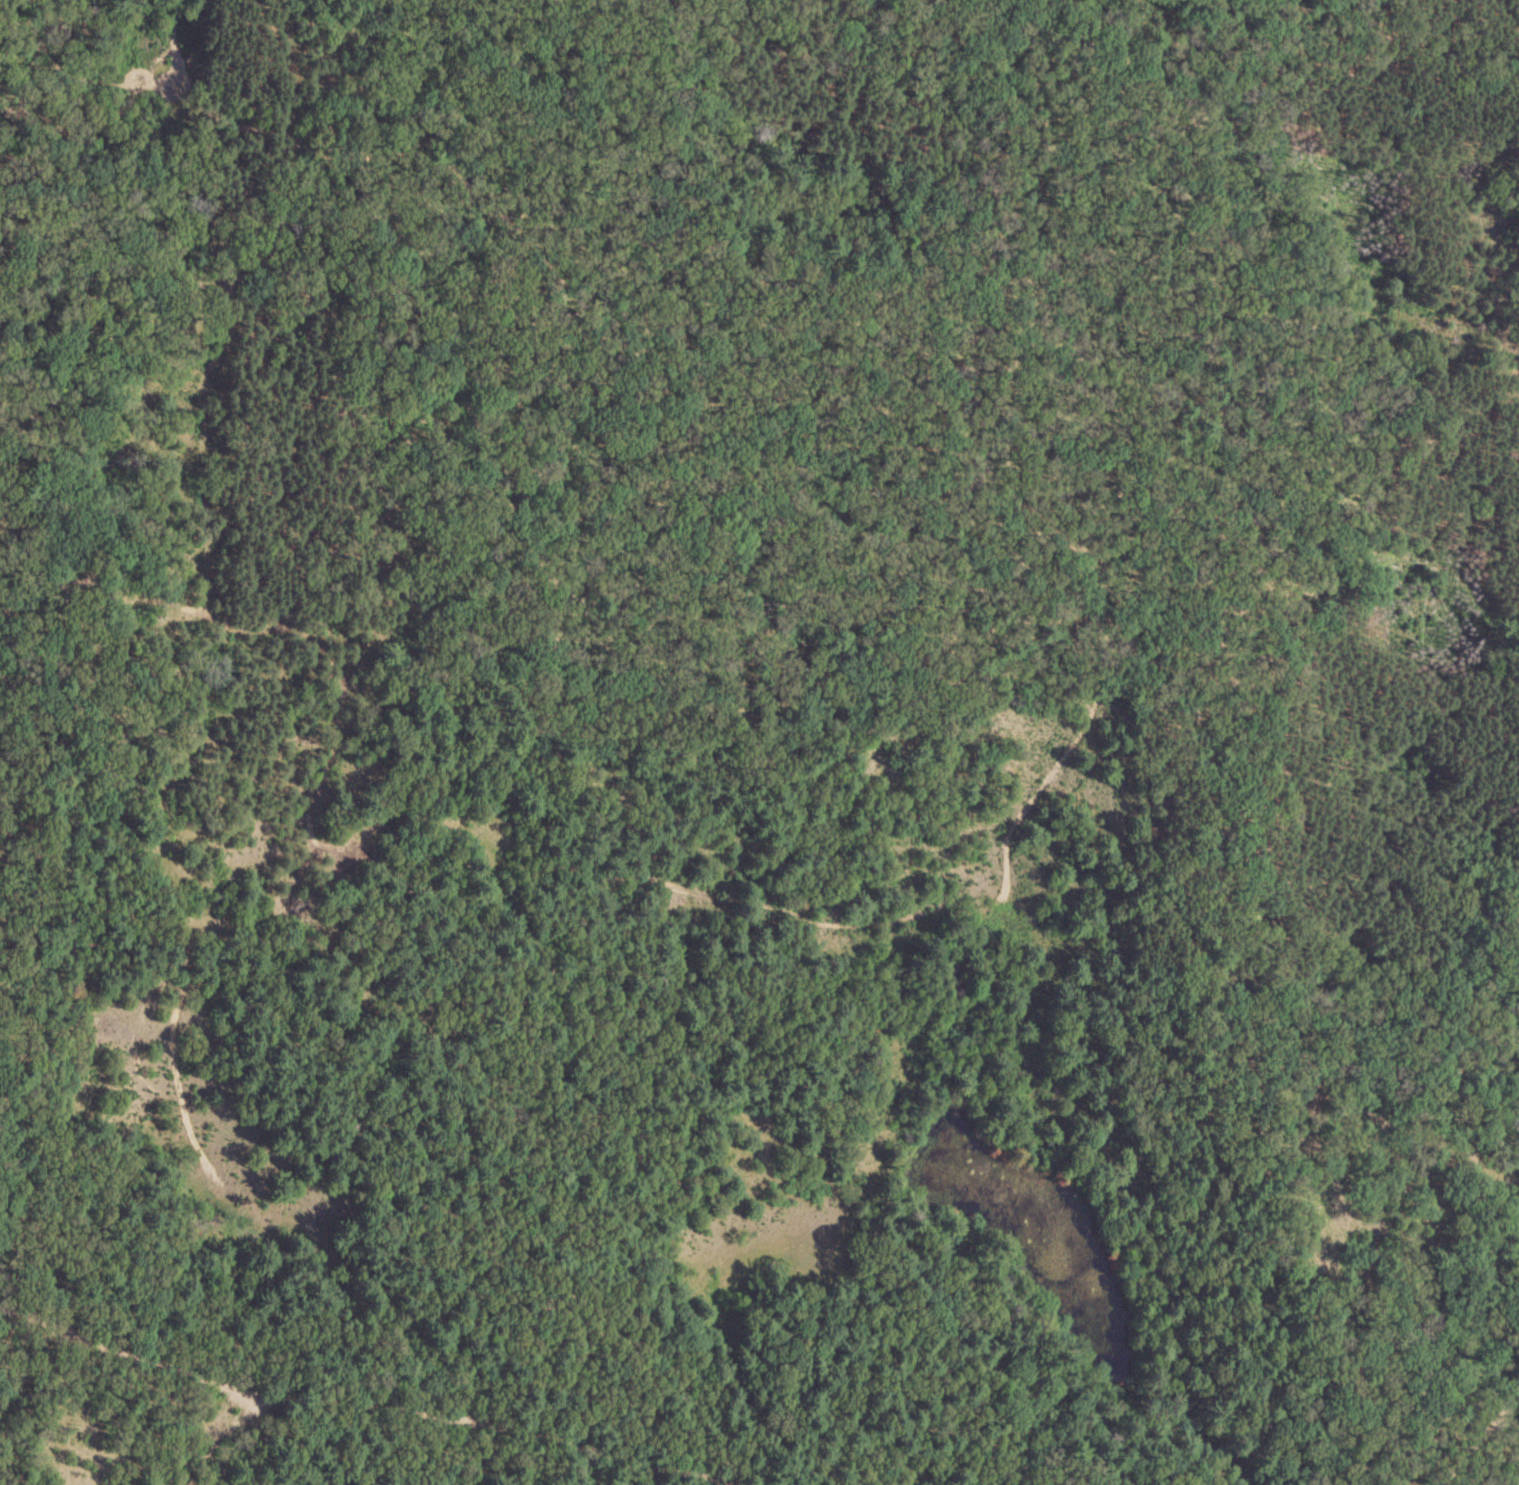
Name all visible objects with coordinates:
road: (397, 1389)
road: (1461, 1416)

